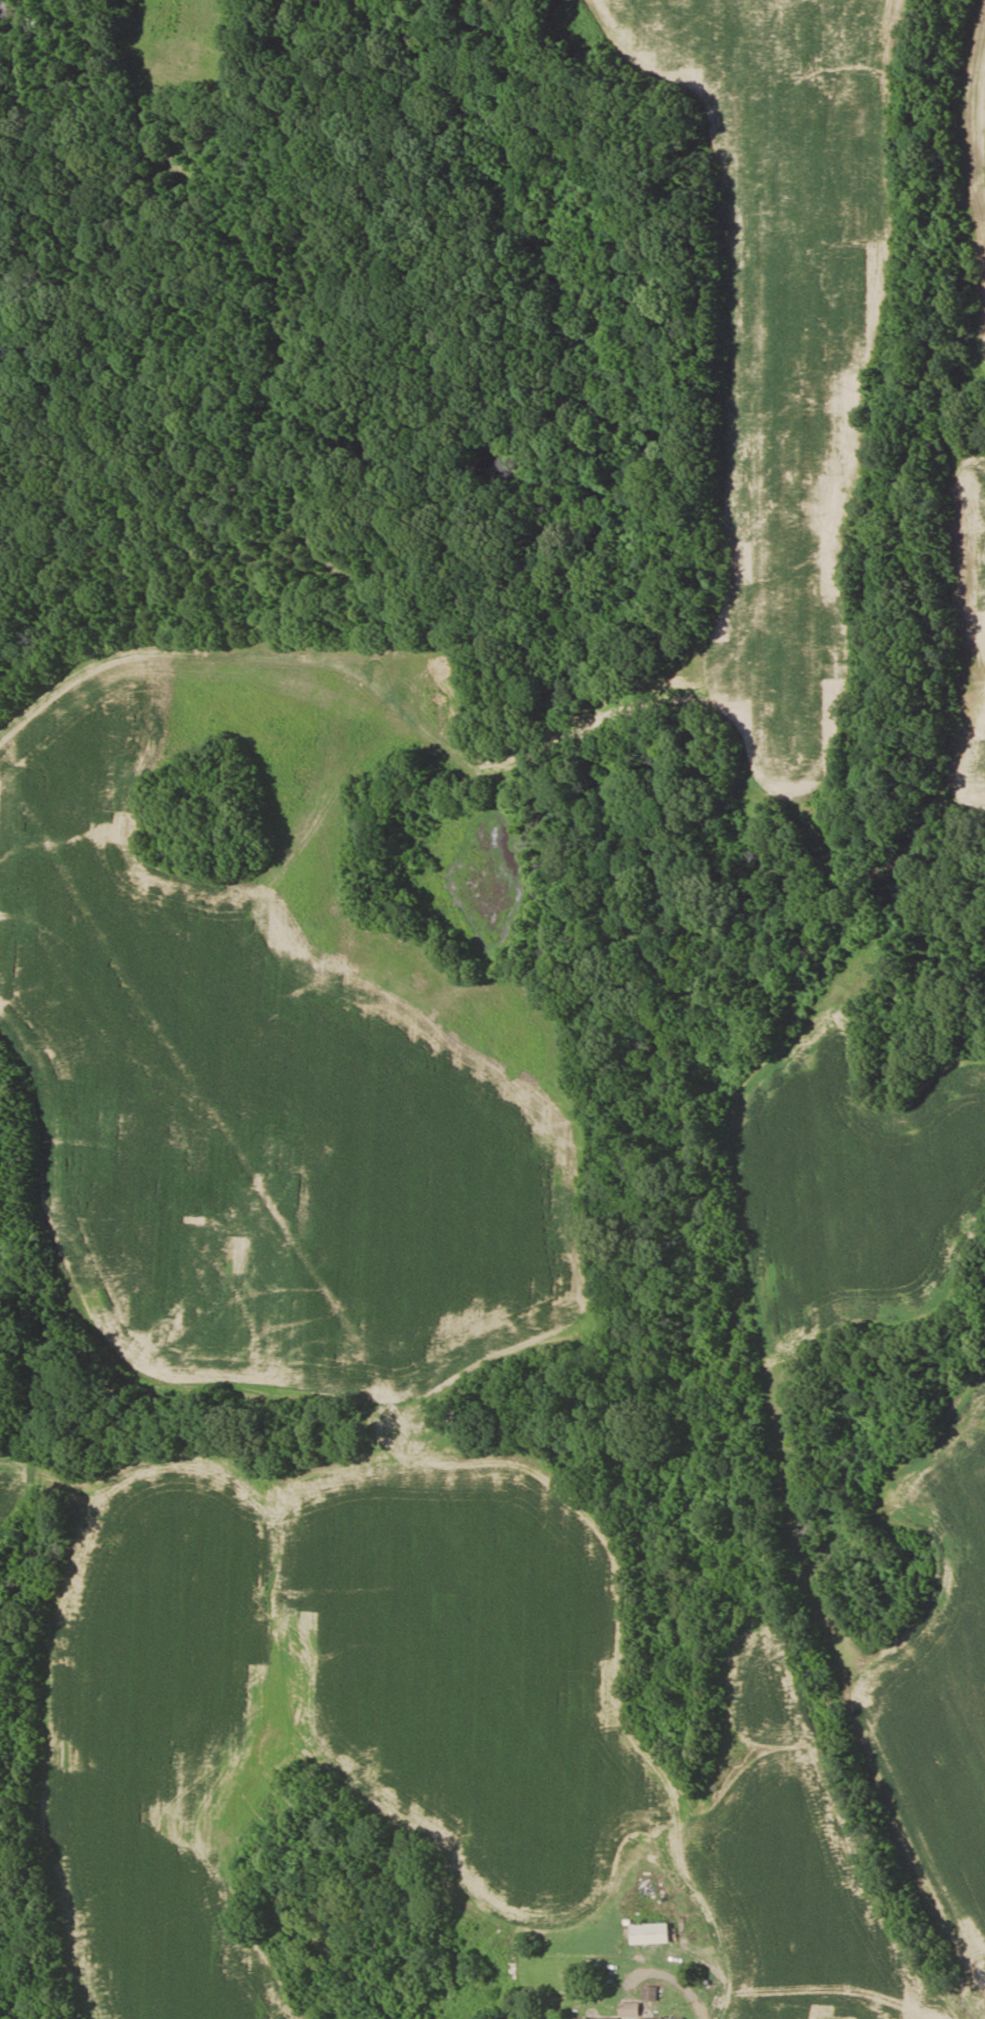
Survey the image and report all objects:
building: (650, 1934)
building: (629, 2011)
building: (592, 2018)

